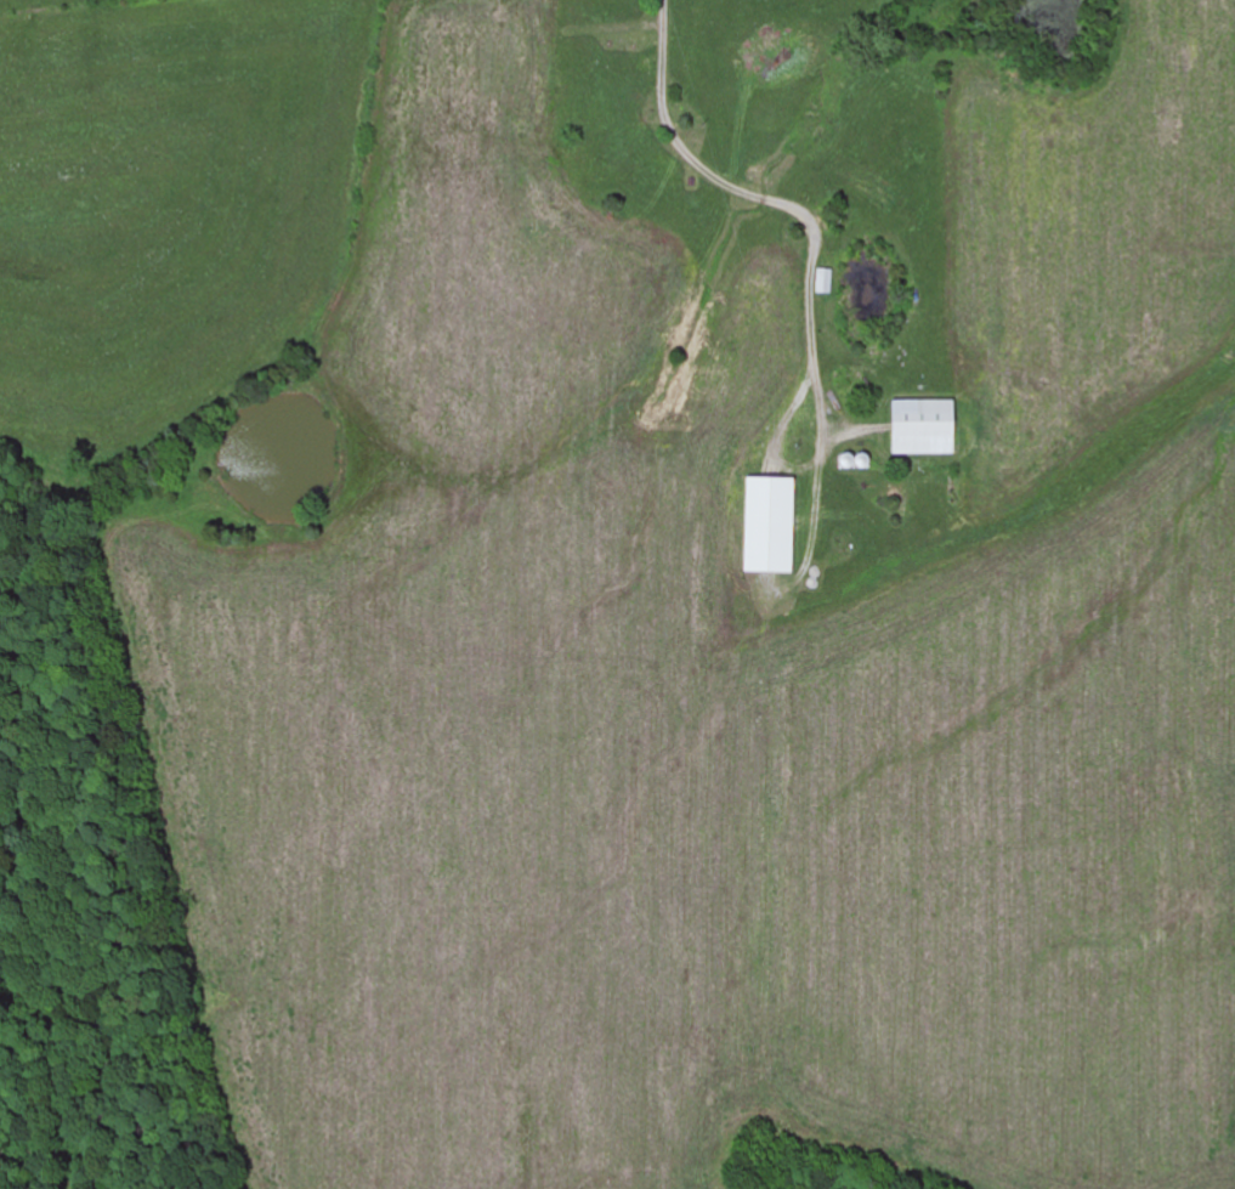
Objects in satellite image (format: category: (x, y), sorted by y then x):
road: (638, 44)
building: (823, 283)
building: (919, 430)
building: (766, 527)

